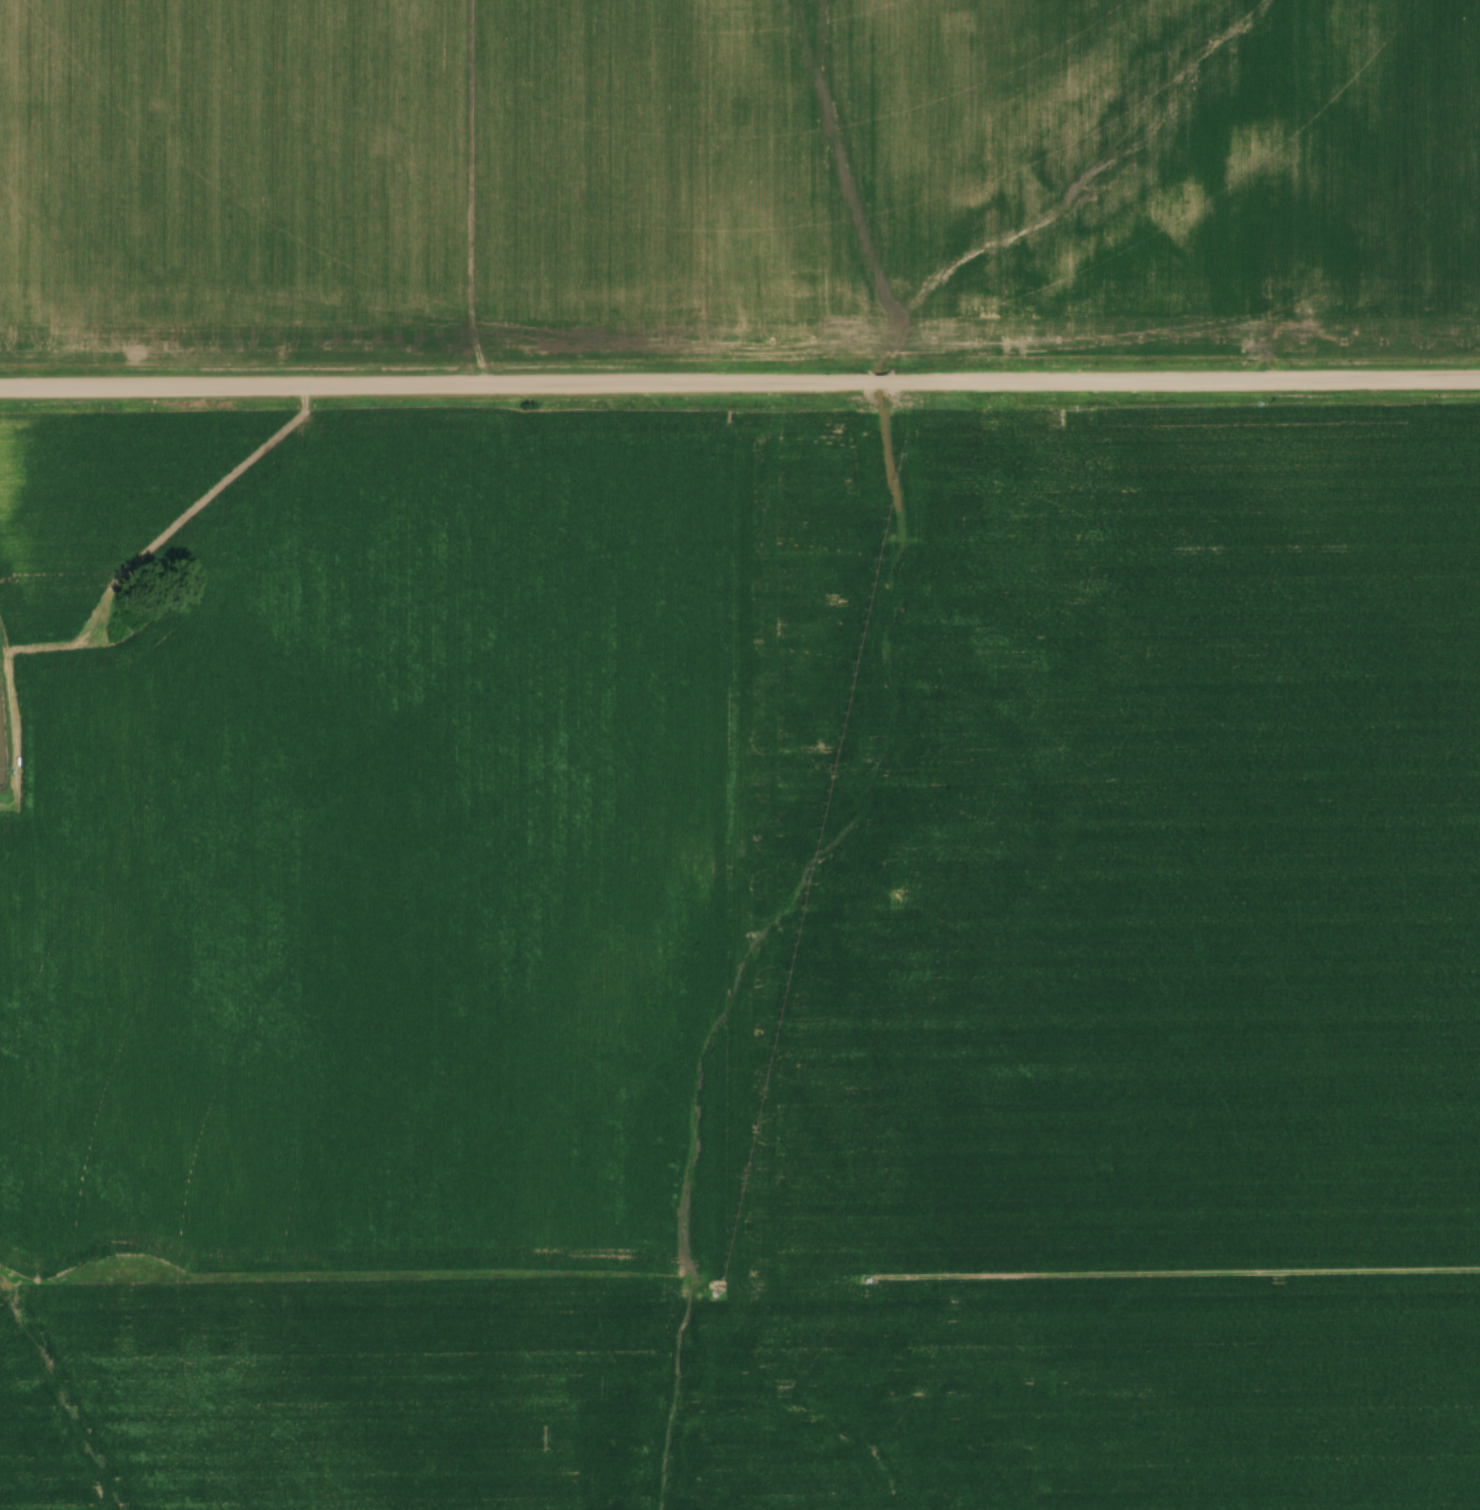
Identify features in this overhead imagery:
road: (739, 389)

